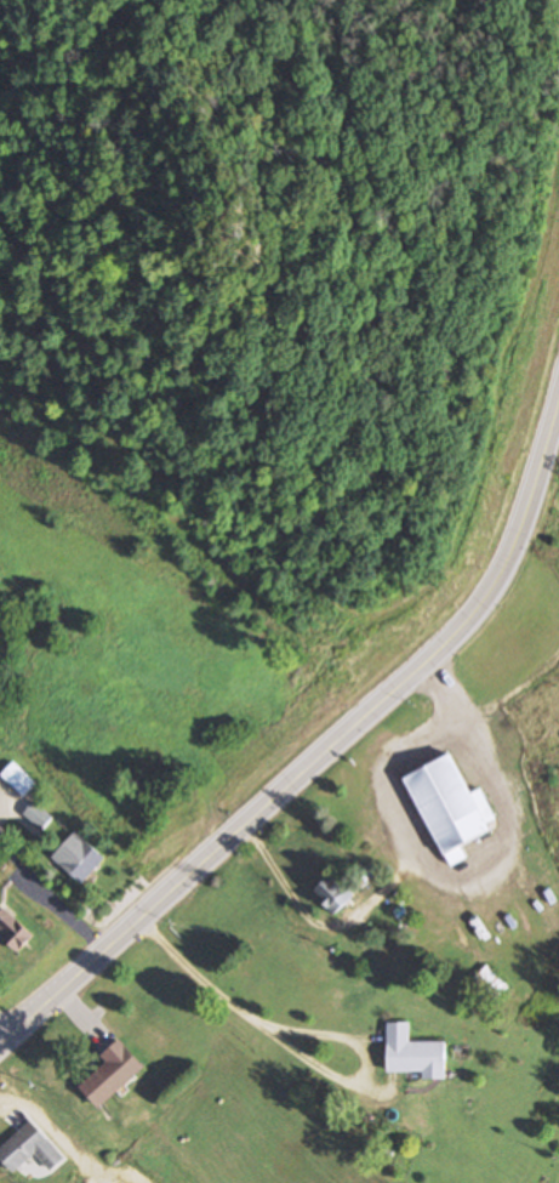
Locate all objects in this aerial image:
road: (498, 576)
building: (0, 682)
building: (19, 779)
building: (451, 807)
building: (40, 814)
building: (81, 855)
road: (194, 872)
building: (335, 893)
building: (15, 929)
road: (8, 1029)
road: (300, 1052)
building: (416, 1052)
building: (114, 1073)
building: (30, 1149)

